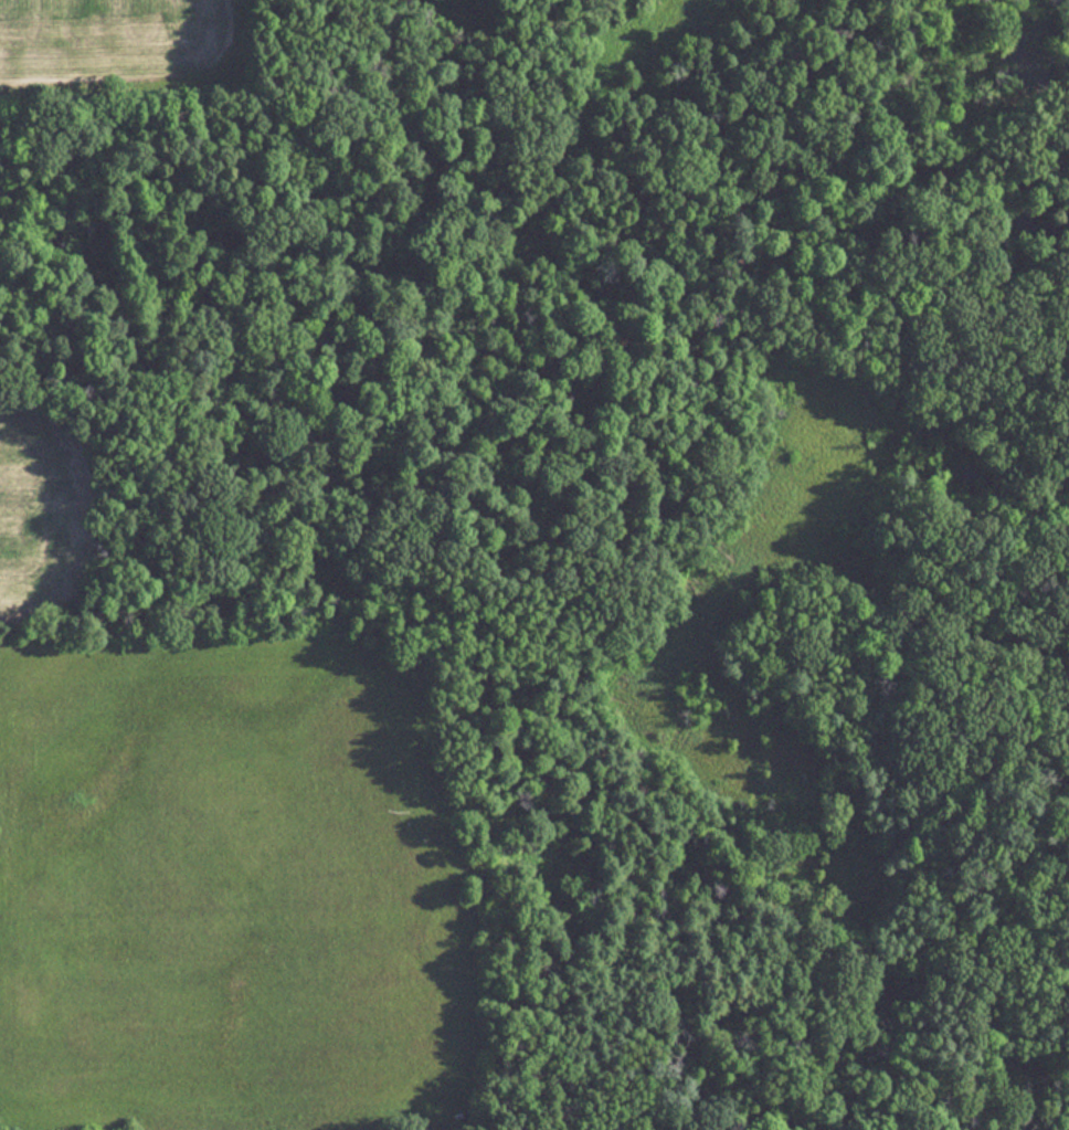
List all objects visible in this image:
crop: (106, 41)
crop: (42, 519)
park: (997, 553)
crop: (213, 900)

